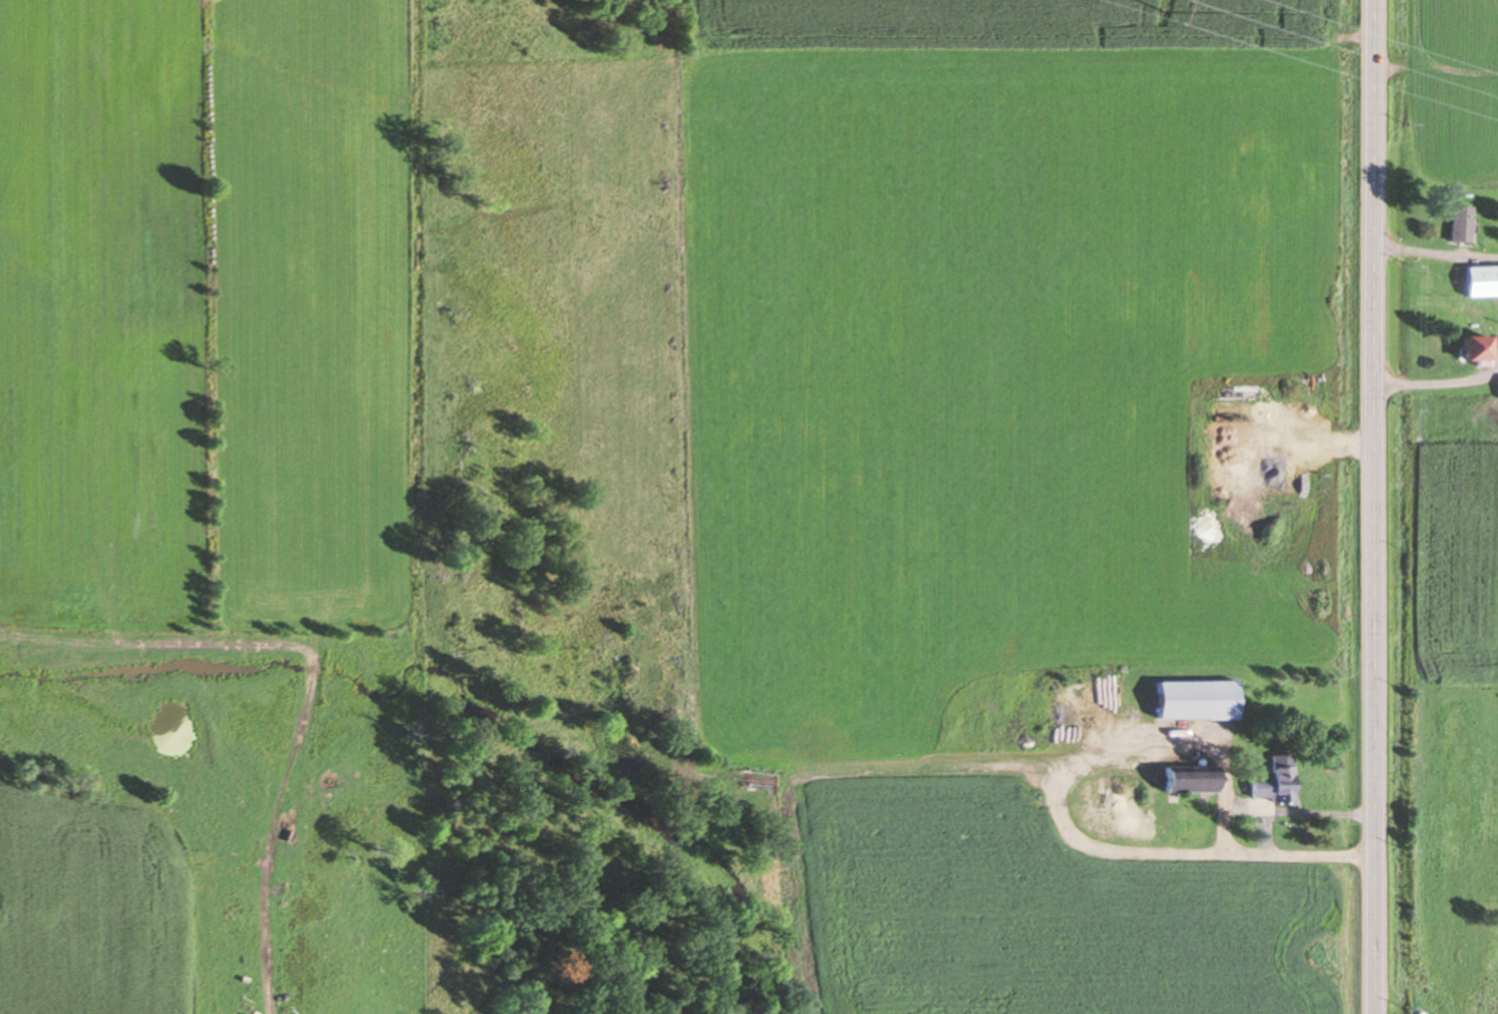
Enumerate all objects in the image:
building: (1460, 222)
building: (1481, 279)
building: (1474, 346)
road: (1377, 507)
building: (1193, 699)
building: (1187, 778)
building: (1273, 783)

